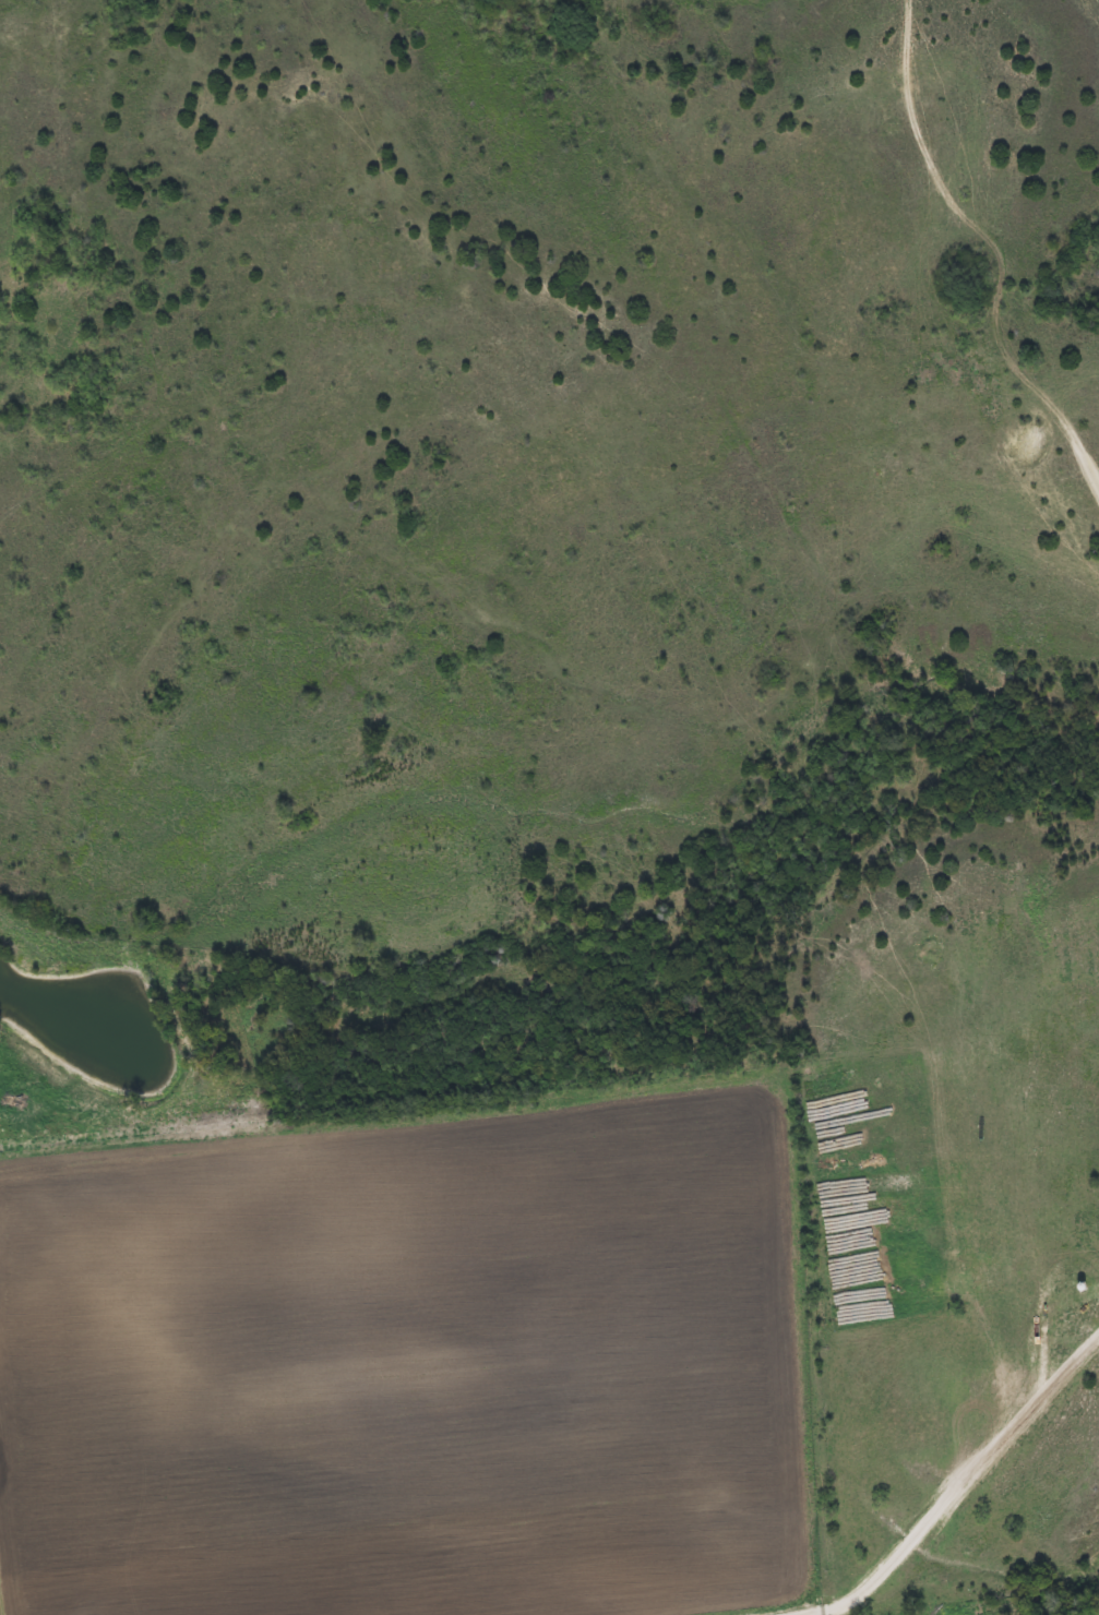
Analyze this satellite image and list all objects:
road: (944, 259)
road: (556, 1053)
road: (839, 1500)

